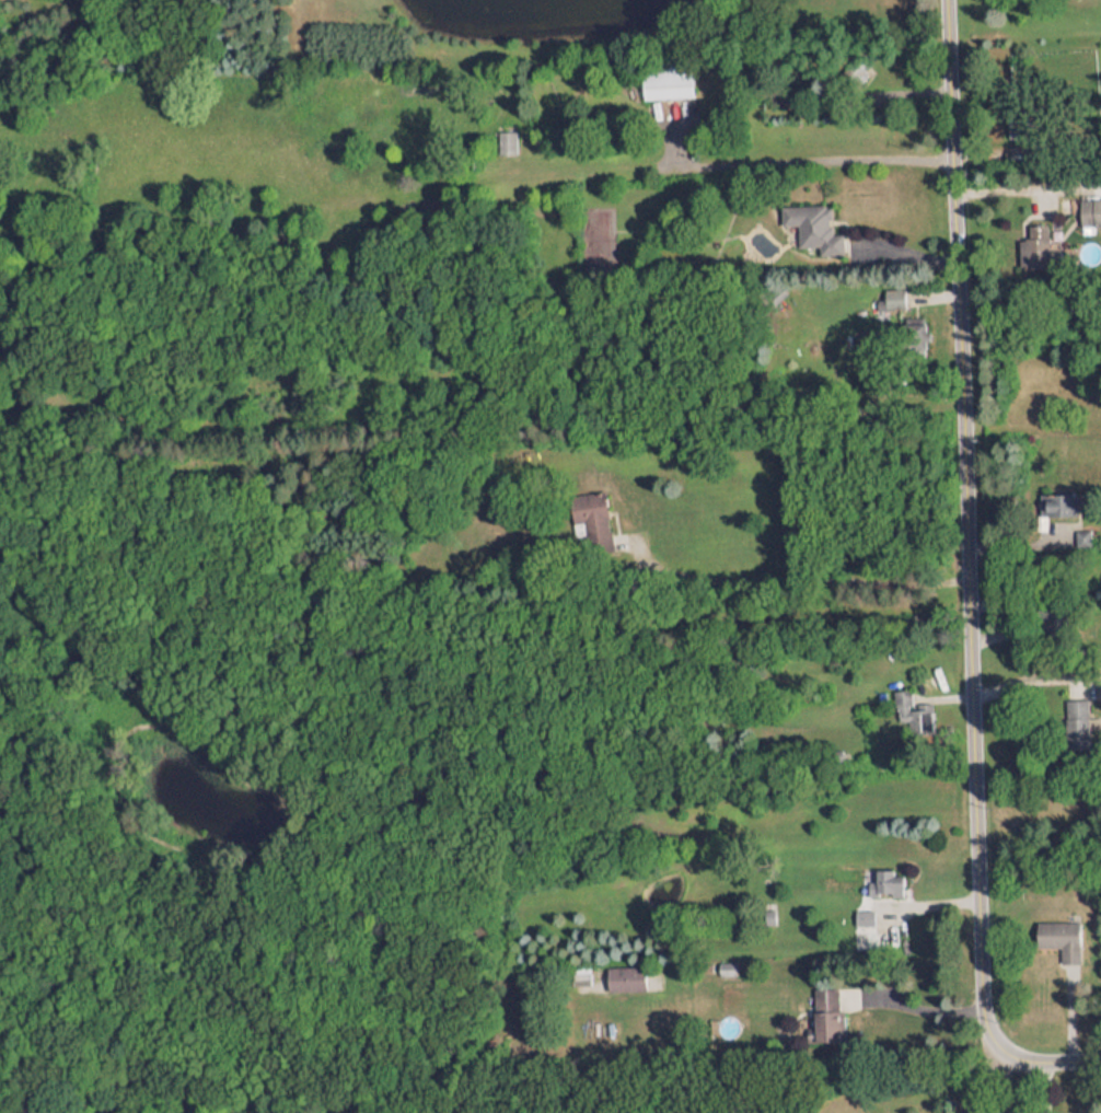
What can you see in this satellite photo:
road: (809, 162)
road: (1005, 188)
building: (804, 213)
building: (1055, 498)
road: (961, 582)
building: (913, 705)
building: (883, 877)
building: (1058, 931)
building: (623, 971)
building: (824, 1001)
road: (920, 1011)
road: (984, 1081)

